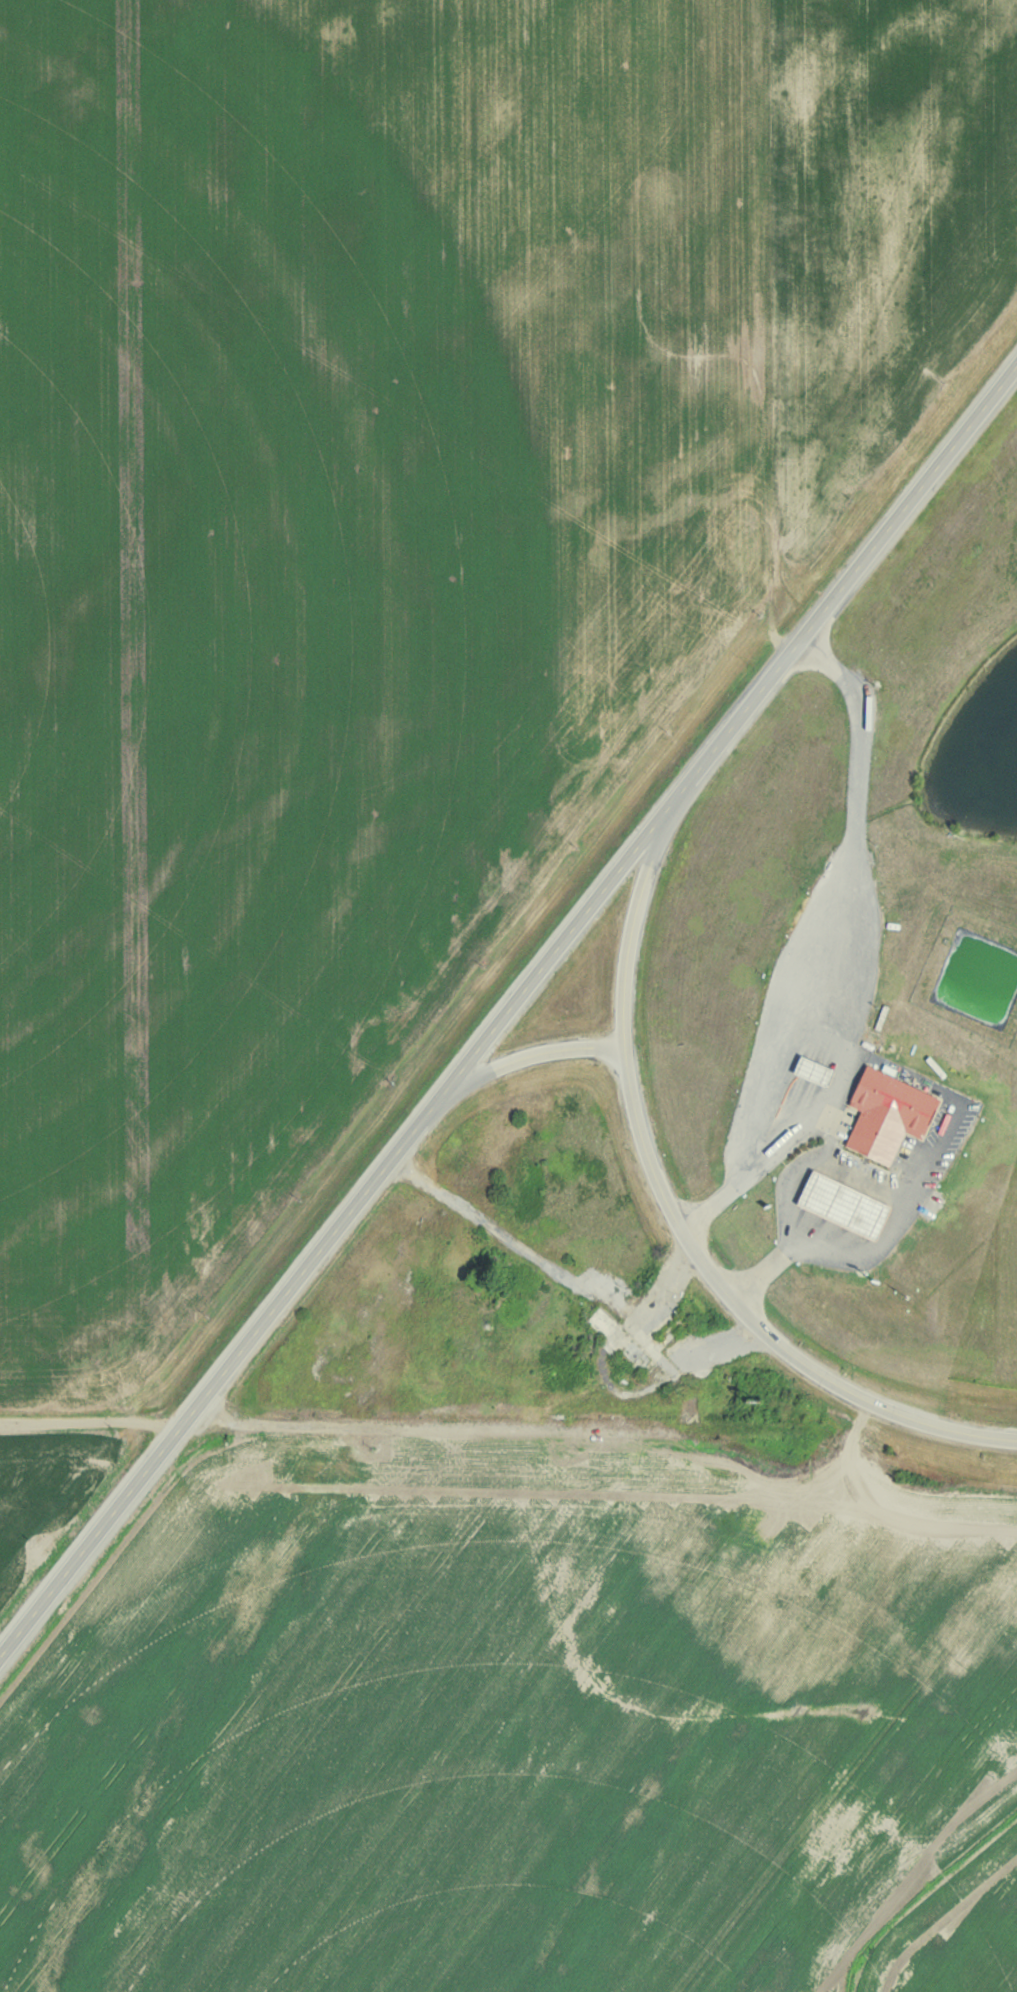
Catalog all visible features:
road: (817, 935)
road: (509, 1014)
road: (537, 1054)
building: (810, 1071)
building: (885, 1114)
road: (931, 1161)
building: (836, 1202)
road: (677, 1206)
road: (552, 1262)

